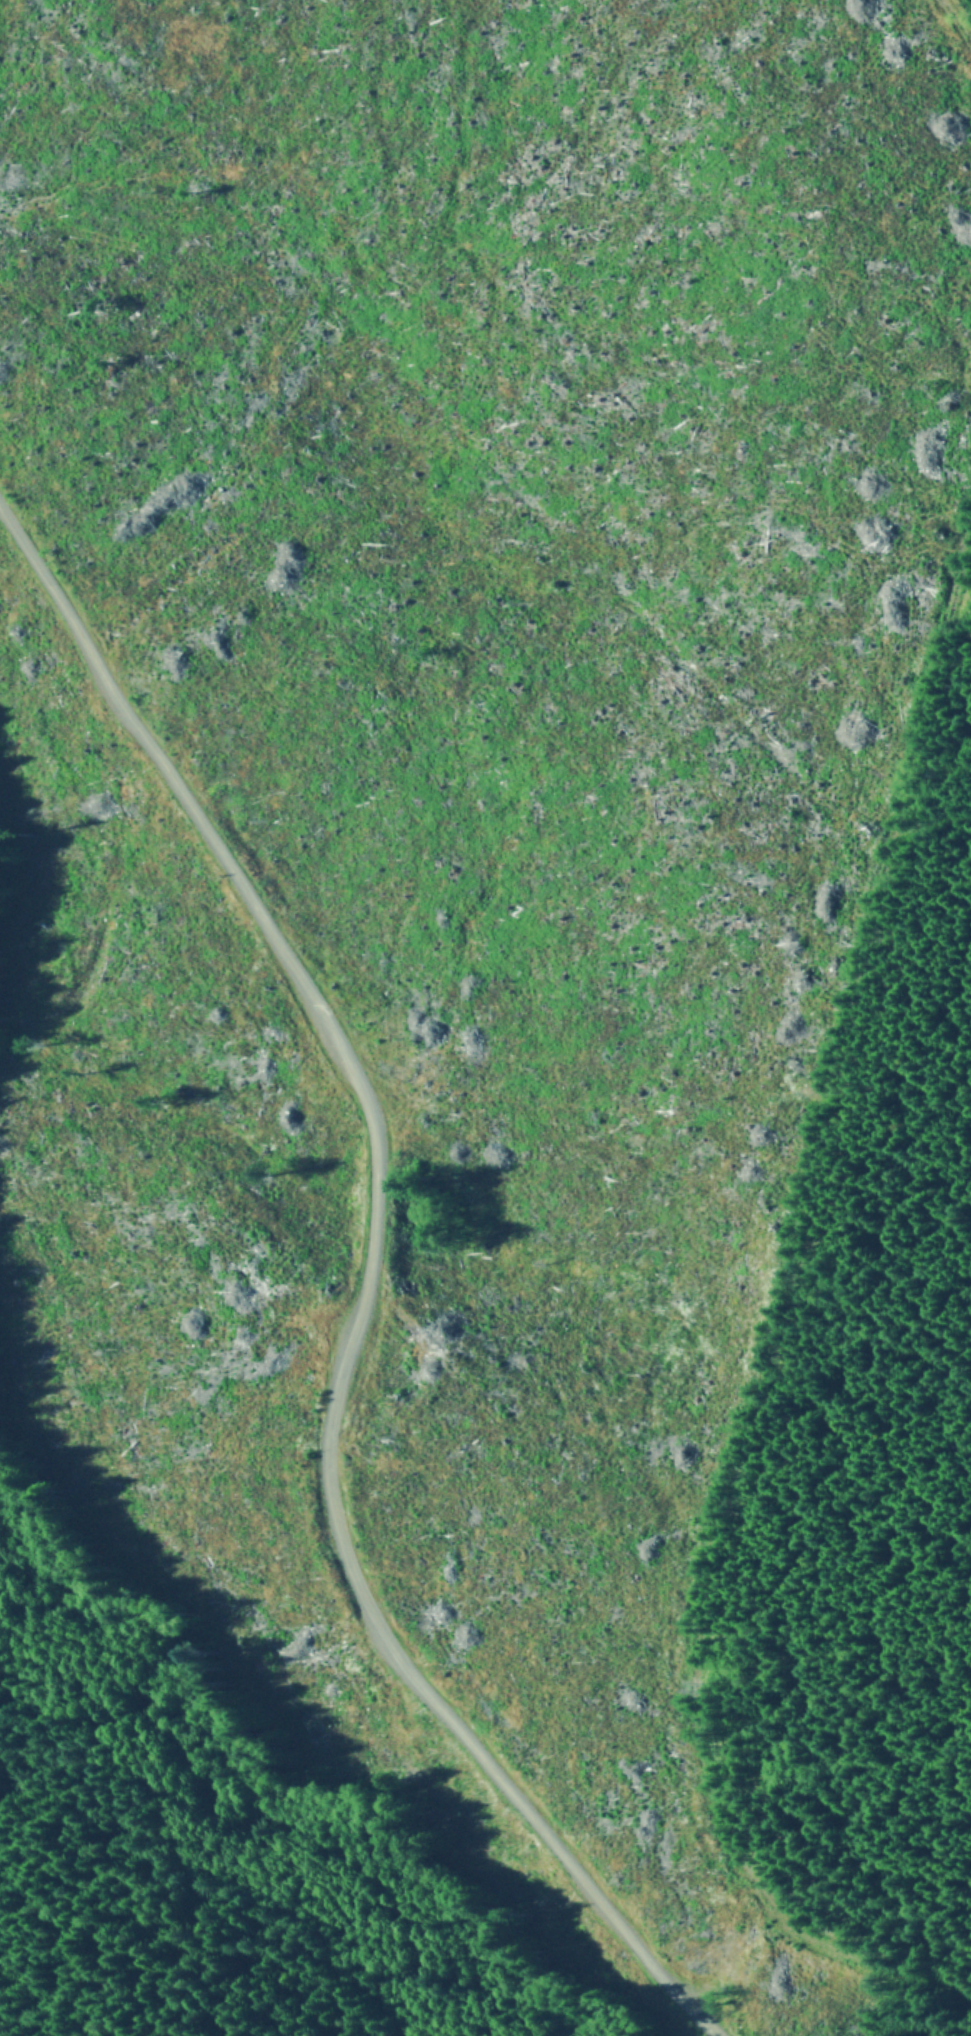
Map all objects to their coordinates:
road: (338, 1307)
road: (922, 2024)

